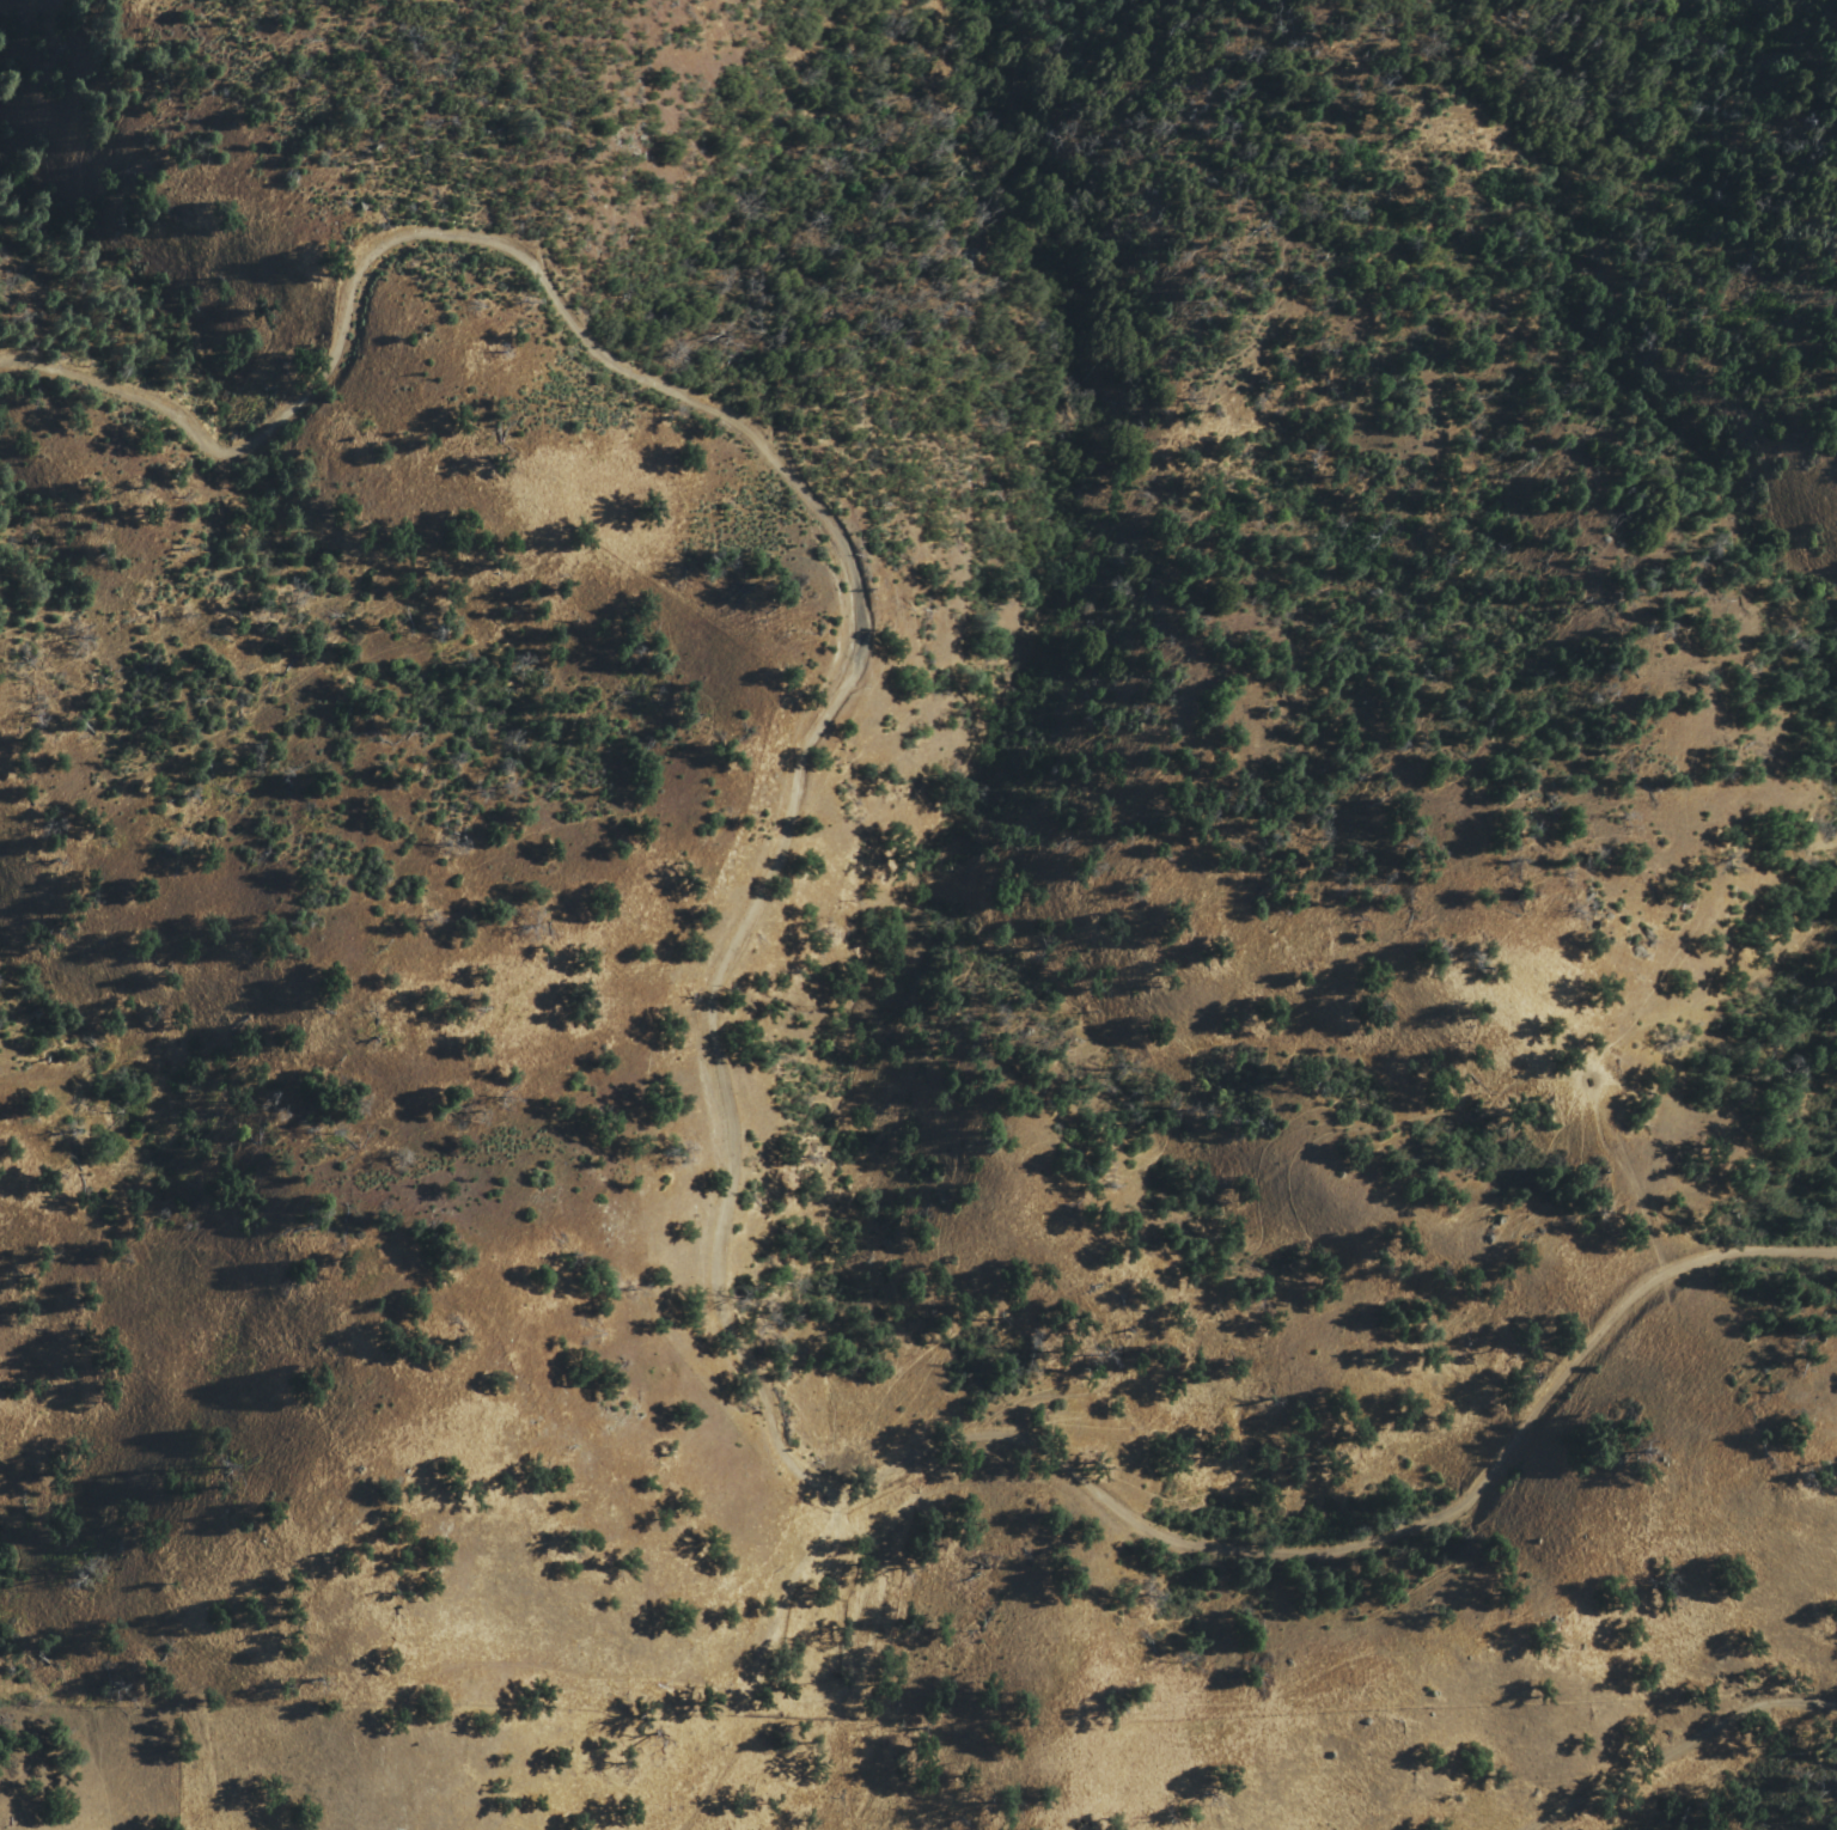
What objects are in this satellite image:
road: (1693, 1752)

